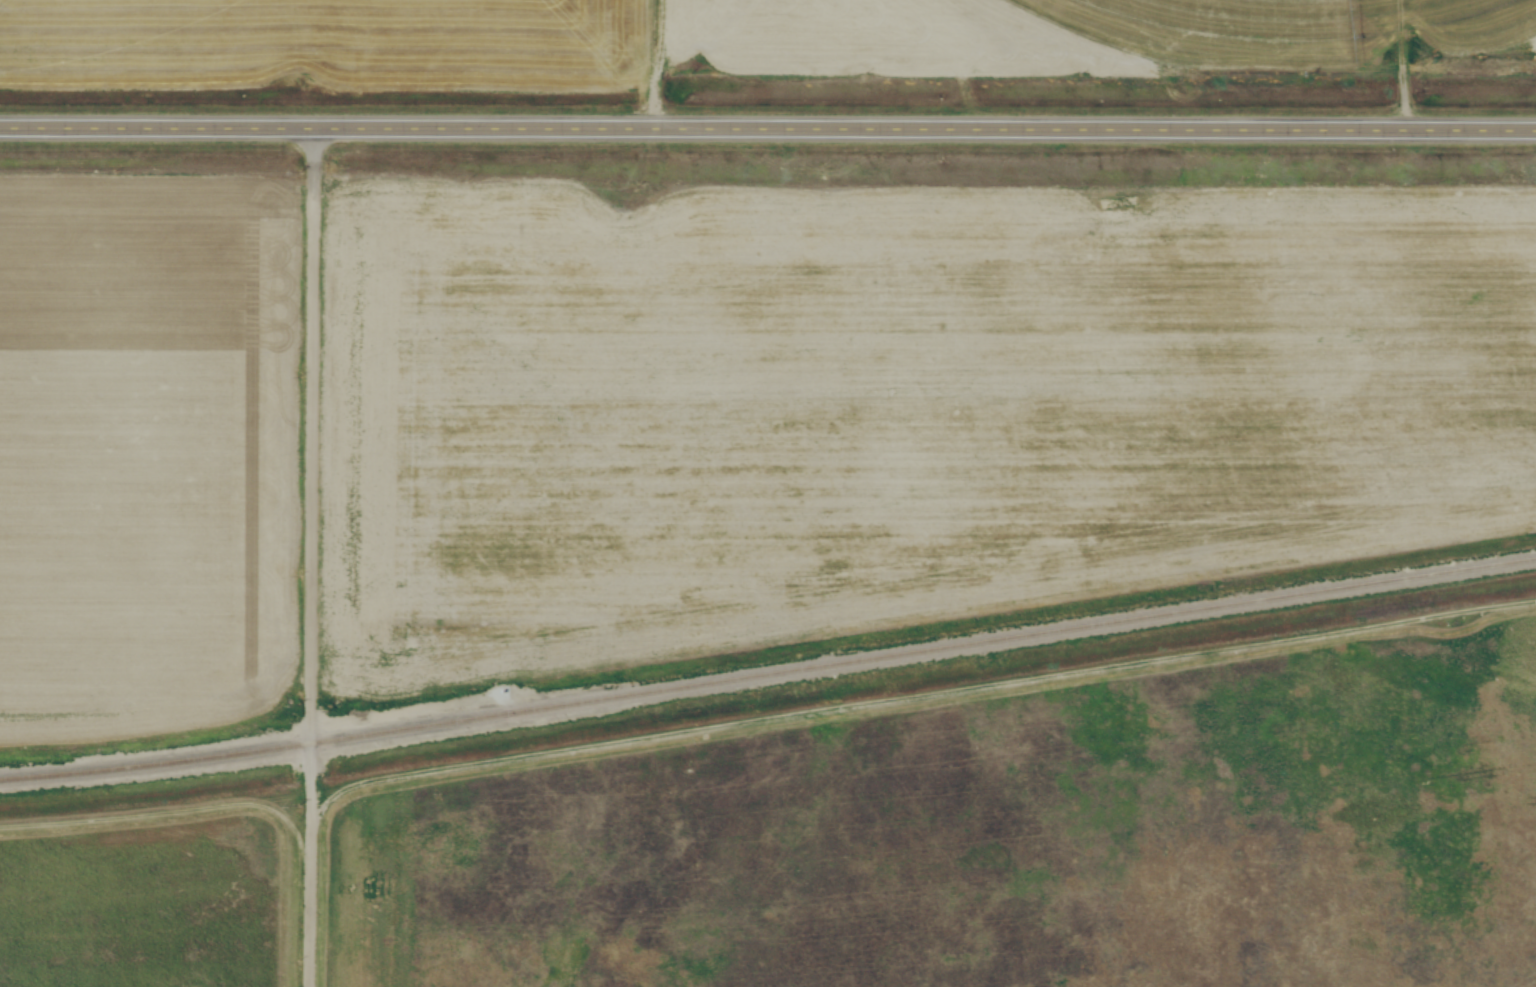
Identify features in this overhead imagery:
road: (768, 128)
road: (314, 557)
railway: (768, 675)

